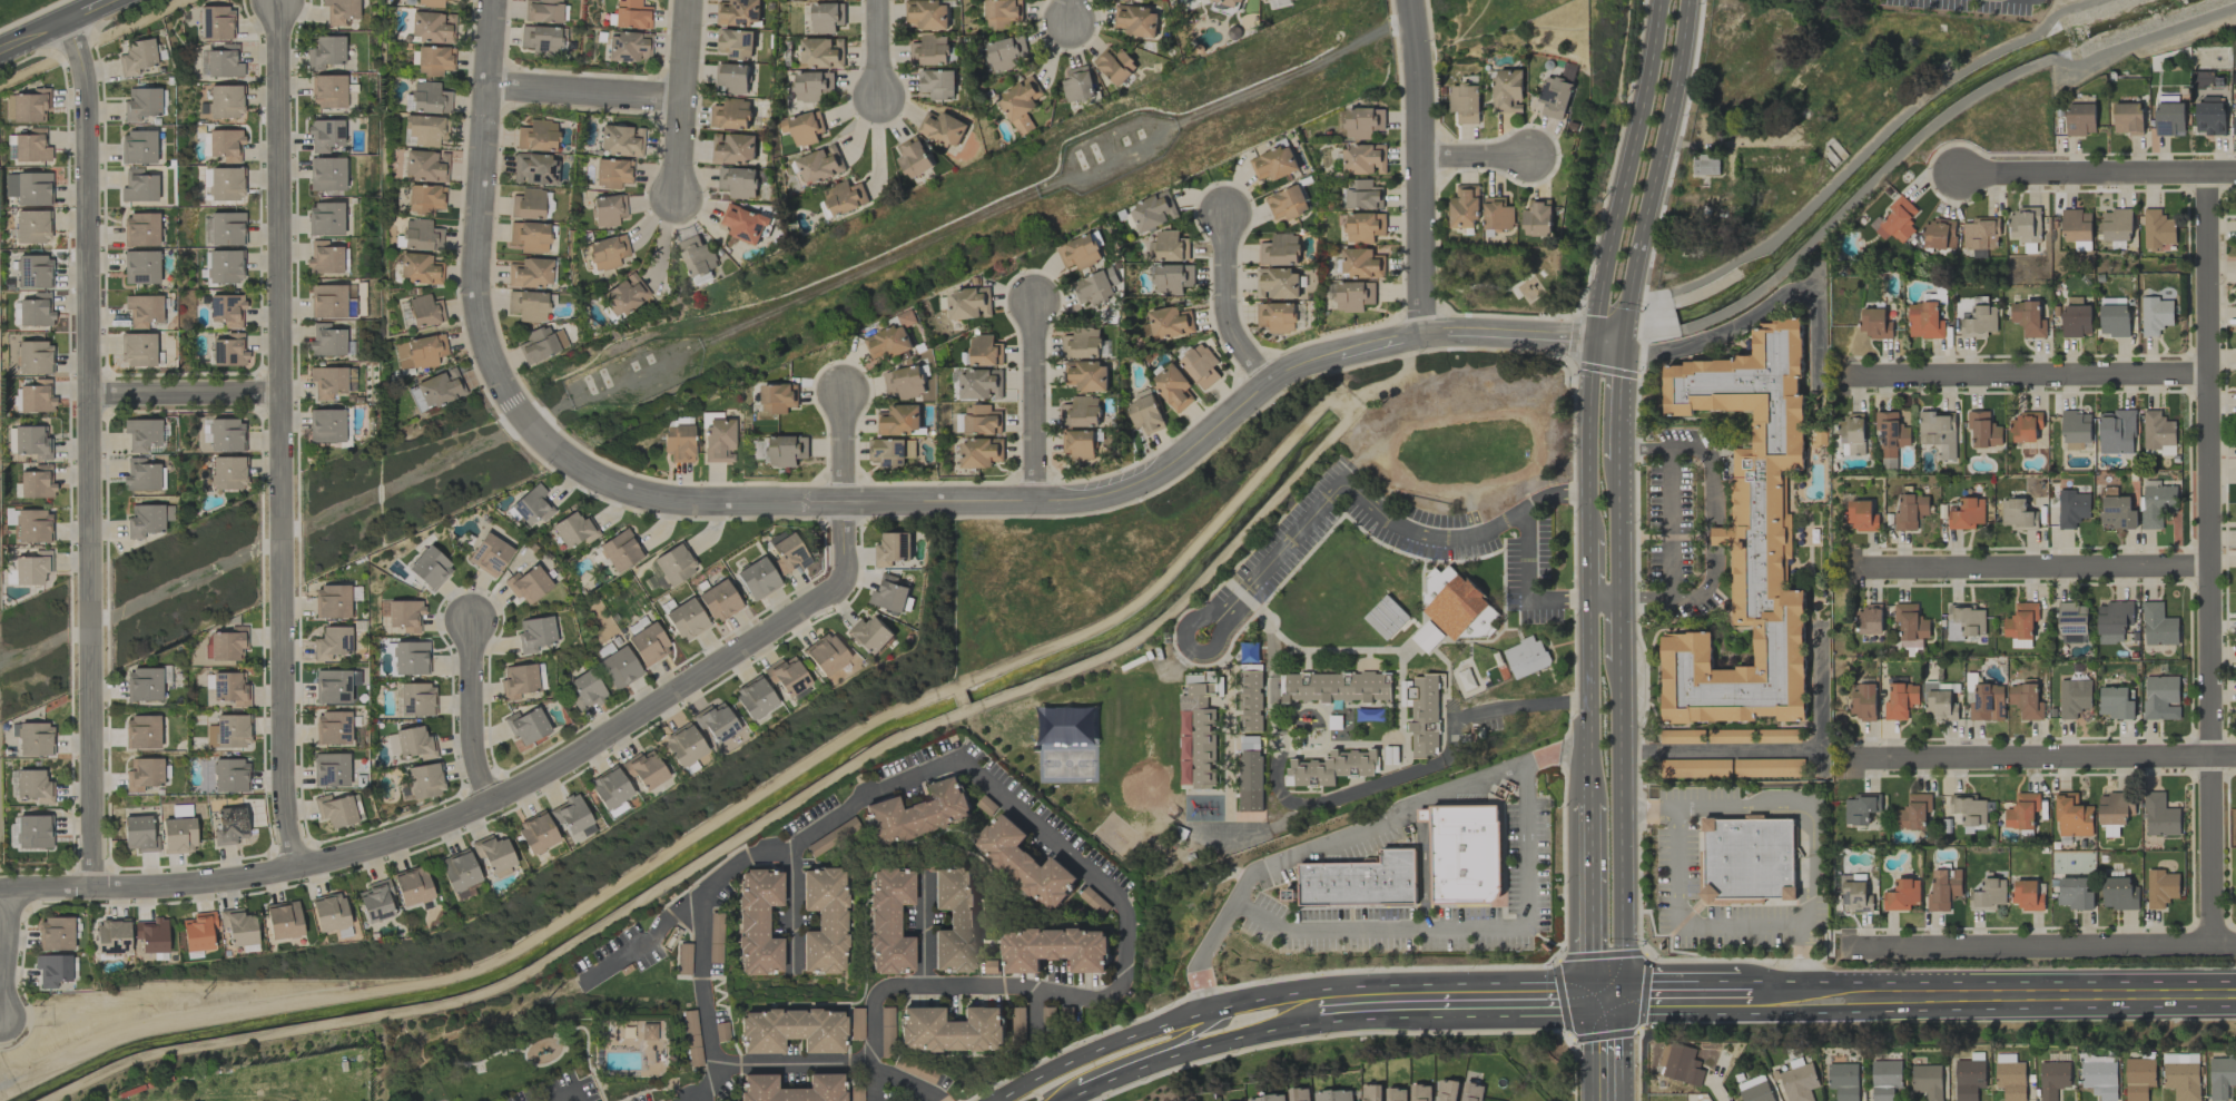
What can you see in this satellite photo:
rooftop solar panel: (747, 1)
building: (1229, 2)
building: (431, 3)
rooftop solar panel: (740, 3)
building: (1278, 3)
road: (89, 10)
building: (339, 11)
building: (542, 11)
building: (739, 12)
building: (1003, 12)
road: (1067, 12)
building: (927, 13)
building: (631, 14)
rooftop solar panel: (757, 14)
building: (826, 17)
rooftop solar panel: (745, 20)
building: (1136, 20)
building: (217, 23)
building: (432, 28)
road: (1684, 29)
road: (35, 35)
rooftop solar panel: (750, 36)
building: (541, 41)
building: (736, 42)
building: (629, 47)
road: (876, 48)
building: (929, 50)
building: (325, 52)
building: (821, 52)
rooftop solar panel: (737, 53)
building: (1006, 53)
building: (136, 57)
building: (434, 60)
building: (224, 62)
building: (1115, 65)
building: (732, 77)
building: (2206, 79)
building: (937, 83)
building: (1077, 83)
building: (812, 85)
building: (1507, 90)
building: (327, 91)
road: (583, 94)
building: (1554, 96)
building: (427, 99)
road: (679, 100)
building: (226, 101)
building: (1464, 102)
building: (1020, 104)
building: (141, 105)
building: (27, 106)
building: (731, 114)
building: (2209, 116)
building: (2080, 118)
building: (2127, 118)
building: (2169, 118)
building: (1363, 121)
building: (2234, 125)
rooftop solar panel: (2165, 126)
building: (802, 127)
rooftop solar panel: (325, 128)
building: (943, 128)
building: (426, 130)
rooftop solar panel: (341, 131)
building: (324, 136)
building: (535, 136)
building: (621, 140)
building: (226, 145)
building: (31, 146)
building: (137, 148)
building: (733, 148)
road: (1475, 156)
building: (913, 157)
building: (1363, 158)
building: (1274, 163)
building: (819, 164)
building: (1704, 165)
building: (425, 167)
road: (1420, 167)
rooftop solar panel: (531, 169)
building: (533, 169)
rooftop solar panel: (550, 169)
road: (1626, 169)
road: (2092, 173)
building: (326, 174)
building: (612, 174)
rooftop solar panel: (534, 177)
rooftop solar panel: (544, 178)
building: (738, 181)
building: (226, 184)
building: (138, 186)
building: (29, 188)
building: (1363, 194)
building: (844, 197)
building: (425, 199)
road: (1649, 199)
building: (1287, 204)
building: (526, 205)
building: (1464, 207)
building: (608, 210)
building: (1152, 210)
building: (1497, 213)
building: (1537, 218)
building: (324, 219)
building: (1897, 220)
building: (745, 223)
building: (2023, 224)
building: (2076, 225)
building: (2116, 225)
building: (32, 226)
building: (1363, 226)
building: (227, 228)
building: (140, 229)
building: (2157, 229)
building: (1939, 233)
building: (1980, 233)
building: (421, 236)
building: (529, 237)
building: (1168, 246)
building: (1279, 250)
building: (608, 252)
building: (1078, 252)
building: (323, 258)
building: (698, 258)
building: (1361, 263)
building: (225, 266)
building: (140, 267)
building: (420, 269)
building: (35, 272)
building: (530, 273)
park: (1499, 275)
rooftop solar panel: (27, 278)
building: (1171, 278)
building: (1277, 283)
building: (1095, 286)
building: (623, 295)
building: (1353, 295)
rooftop solar panel: (229, 301)
building: (329, 302)
building: (968, 303)
rooftop solar panel: (218, 305)
building: (528, 306)
road: (1224, 306)
road: (1760, 309)
building: (36, 311)
building: (142, 311)
building: (226, 311)
building: (425, 312)
building: (2155, 315)
building: (1277, 316)
building: (2028, 318)
building: (1924, 320)
building: (2076, 320)
building: (2114, 320)
building: (1170, 322)
building: (1979, 322)
building: (1874, 323)
traffic signals: (1593, 340)
building: (326, 341)
building: (888, 342)
traffic signals: (1622, 342)
building: (1082, 343)
building: (541, 344)
building: (137, 350)
building: (229, 351)
building: (985, 351)
building: (420, 352)
building: (35, 358)
building: (1200, 365)
building: (1087, 375)
road: (2023, 376)
building: (327, 382)
building: (904, 382)
building: (979, 383)
road: (1619, 383)
building: (1172, 386)
building: (440, 387)
road: (184, 394)
building: (36, 396)
building: (777, 397)
building: (416, 399)
road: (1033, 402)
building: (1081, 412)
building: (1145, 413)
building: (899, 420)
building: (982, 420)
road: (1588, 423)
building: (2026, 425)
building: (325, 426)
building: (1983, 429)
building: (2076, 429)
building: (2156, 430)
building: (1938, 431)
building: (2116, 431)
building: (1890, 432)
building: (141, 434)
building: (1851, 434)
building: (226, 435)
road: (280, 435)
building: (718, 441)
building: (30, 442)
building: (679, 443)
road: (838, 443)
building: (1078, 443)
rooftop solar panel: (903, 448)
building: (787, 450)
building: (890, 450)
rooftop solar panel: (881, 451)
building: (981, 452)
road: (88, 454)
rooftop solar panel: (890, 461)
building: (228, 473)
building: (140, 475)
building: (37, 482)
road: (866, 502)
building: (2156, 504)
building: (532, 505)
building: (2071, 508)
rooftop solar panel: (2115, 508)
building: (2116, 509)
rooftop solar panel: (522, 511)
road: (1617, 511)
building: (1910, 511)
building: (1966, 513)
building: (2017, 514)
building: (1862, 515)
building: (146, 520)
road: (1708, 522)
rooftop solar panel: (2126, 522)
road: (1669, 523)
building: (33, 527)
building: (574, 530)
building: (1746, 535)
road: (1461, 539)
rooftop solar panel: (908, 545)
building: (893, 548)
rooftop solar panel: (479, 550)
building: (620, 551)
road: (1280, 551)
rooftop solar panel: (800, 552)
road: (1588, 553)
building: (489, 554)
building: (788, 554)
road: (2206, 557)
rooftop solar panel: (807, 561)
rooftop solar panel: (493, 563)
building: (673, 564)
building: (32, 568)
building: (430, 568)
road: (2032, 569)
building: (757, 579)
building: (528, 584)
road: (1525, 584)
building: (890, 593)
road: (1604, 598)
building: (1450, 599)
building: (332, 601)
building: (718, 601)
rooftop solar panel: (2071, 612)
building: (405, 616)
rooftop solar panel: (2075, 617)
building: (686, 619)
building: (1870, 619)
building: (2020, 620)
building: (2112, 620)
building: (1963, 621)
building: (2072, 622)
building: (1910, 623)
building: (2158, 625)
rooftop solar panel: (2075, 628)
road: (1618, 629)
building: (534, 633)
building: (870, 633)
rooftop solar panel: (342, 641)
building: (228, 643)
building: (332, 643)
rooftop solar panel: (348, 643)
building: (648, 645)
road: (1182, 649)
building: (825, 655)
building: (1526, 657)
building: (411, 658)
building: (619, 668)
building: (786, 676)
road: (1618, 676)
building: (518, 681)
rooftop solar panel: (346, 684)
building: (144, 685)
building: (334, 686)
building: (1334, 686)
rooftop solar panel: (1988, 687)
building: (230, 688)
building: (585, 690)
building: (2074, 697)
building: (2160, 697)
rooftop solar panel: (345, 698)
building: (753, 698)
building: (417, 699)
road: (1589, 700)
building: (1864, 700)
building: (1900, 700)
rooftop solar panel: (1978, 700)
building: (2025, 700)
building: (1250, 701)
building: (1938, 702)
building: (1987, 702)
rooftop solar panel: (1990, 702)
building: (2115, 702)
rooftop solar panel: (2001, 709)
road: (470, 714)
building: (1422, 714)
building: (715, 722)
building: (526, 726)
building: (332, 728)
building: (1196, 729)
building: (227, 731)
building: (141, 733)
building: (1730, 736)
building: (33, 738)
building: (415, 744)
building: (392, 745)
building: (682, 745)
road: (1780, 751)
road: (2049, 758)
building: (1330, 767)
building: (1694, 767)
building: (1767, 767)
building: (644, 769)
building: (329, 770)
building: (144, 774)
building: (230, 775)
rooftop solar panel: (328, 776)
road: (1621, 776)
building: (1250, 779)
building: (425, 780)
rooftop solar panel: (341, 783)
building: (35, 786)
building: (609, 788)
road: (1343, 794)
road: (485, 805)
building: (2115, 807)
building: (1860, 808)
building: (1969, 808)
building: (334, 810)
building: (2021, 810)
building: (917, 812)
road: (1809, 812)
building: (1913, 812)
building: (570, 814)
building: (1424, 815)
building: (2071, 815)
building: (2159, 815)
building: (229, 826)
building: (35, 832)
building: (536, 833)
building: (139, 834)
building: (178, 836)
road: (1344, 836)
road: (1523, 846)
building: (1466, 854)
building: (493, 856)
building: (1024, 862)
building: (1749, 862)
road: (1421, 866)
building: (459, 871)
building: (1359, 879)
road: (1107, 885)
building: (411, 886)
building: (2160, 887)
building: (1943, 888)
building: (1853, 893)
building: (2075, 893)
building: (2119, 893)
building: (1901, 894)
building: (1987, 895)
building: (2027, 895)
rooftop solar panel: (1860, 896)
rooftop solar panel: (1846, 897)
building: (375, 901)
road: (1589, 901)
rooftop solar panel: (1865, 908)
building: (328, 913)
rooftop solar panel: (378, 915)
building: (953, 920)
building: (283, 921)
building: (823, 921)
building: (887, 921)
building: (757, 922)
road: (1681, 925)
building: (238, 927)
road: (924, 931)
road: (1622, 931)
building: (198, 932)
road: (1372, 932)
building: (56, 934)
building: (151, 935)
building: (112, 937)
road: (2045, 942)
road: (644, 944)
road: (702, 945)
building: (1054, 947)
road: (1, 957)
building: (52, 970)
road: (1992, 997)
traffic signals: (1589, 999)
road: (1470, 1000)
traffic signals: (1622, 1000)
road: (1685, 1001)
road: (1033, 1010)
building: (950, 1029)
building: (790, 1030)
building: (647, 1031)
road: (1154, 1031)
road: (1245, 1034)
road: (1188, 1042)
building: (692, 1048)
road: (1592, 1049)
road: (1619, 1050)
building: (2006, 1056)
road: (792, 1062)
building: (1680, 1063)
building: (914, 1070)
road: (1122, 1072)
building: (2181, 1075)
building: (2222, 1077)
building: (2138, 1078)
building: (1885, 1079)
building: (1969, 1079)
building: (2053, 1079)
building: (2100, 1079)
building: (1844, 1080)
building: (2010, 1080)
building: (1928, 1081)
building: (1799, 1082)
building: (791, 1088)
road: (564, 1090)
building: (1447, 1090)
building: (1469, 1091)
building: (1370, 1092)
building: (1419, 1092)
building: (1756, 1092)
road: (1721, 1093)
building: (1298, 1094)
building: (1333, 1094)
building: (1395, 1094)
road: (1067, 1097)
building: (1267, 1098)
road: (702, 1100)

